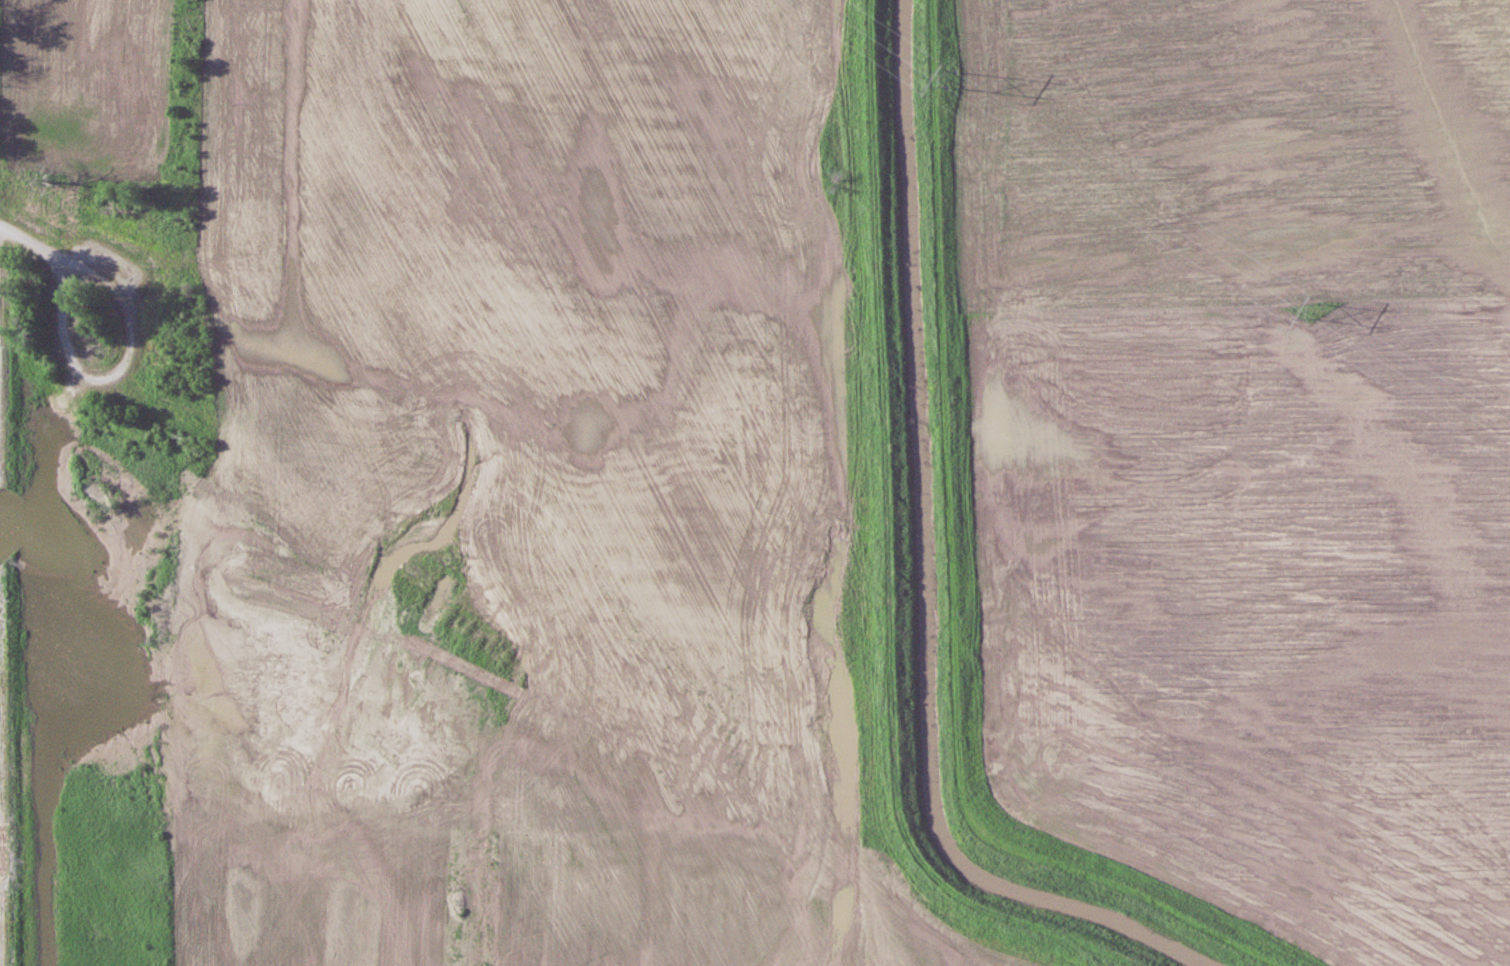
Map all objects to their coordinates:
power tower: (958, 79)
power tower: (1310, 308)
road: (880, 548)
road: (0, 871)

